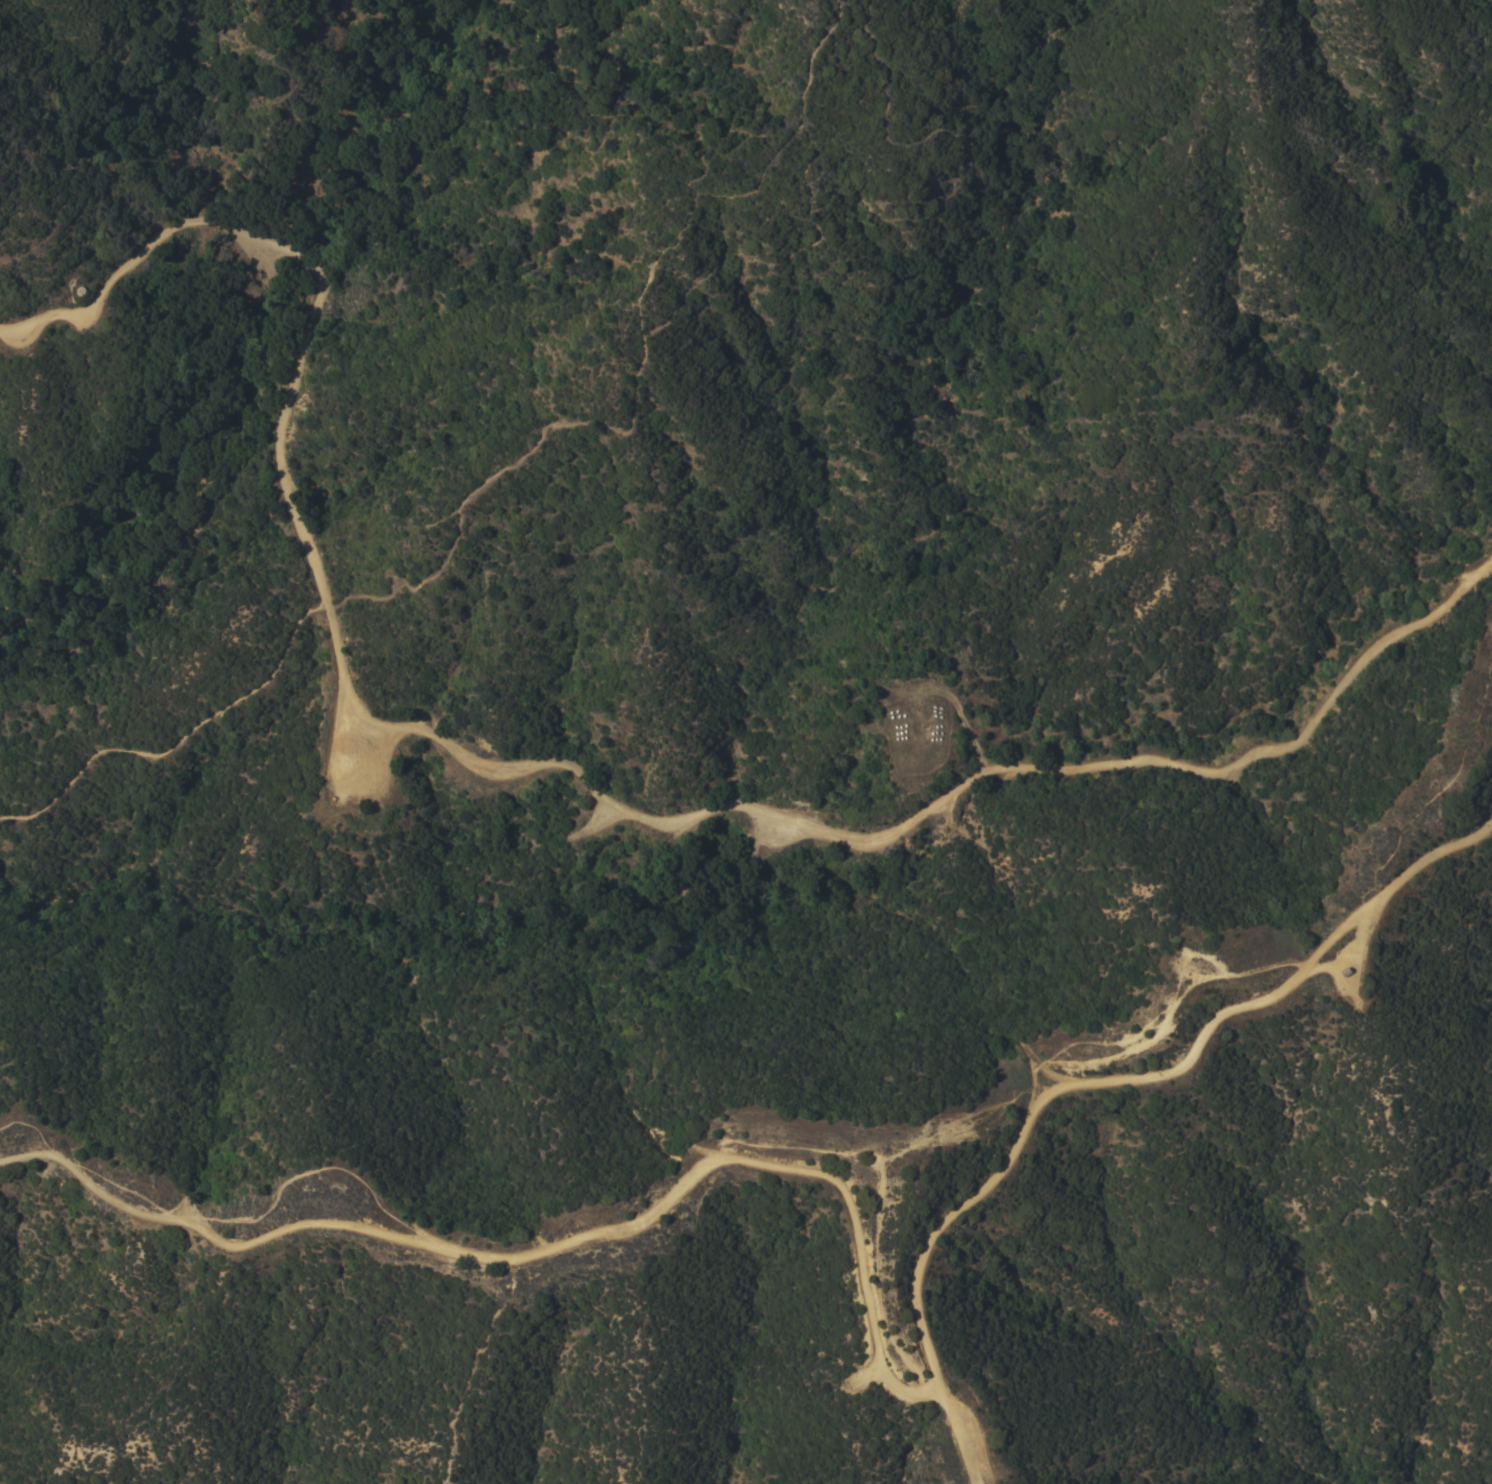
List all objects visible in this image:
road: (634, 342)
park: (416, 470)
road: (178, 739)
road: (569, 773)
road: (1096, 1080)
road: (552, 1249)

